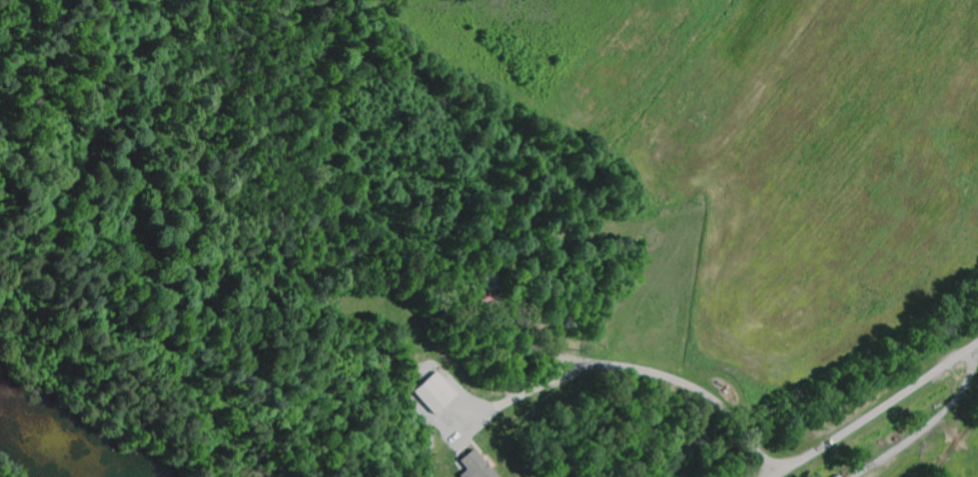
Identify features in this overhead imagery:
building: (439, 393)
road: (870, 410)
building: (481, 466)

